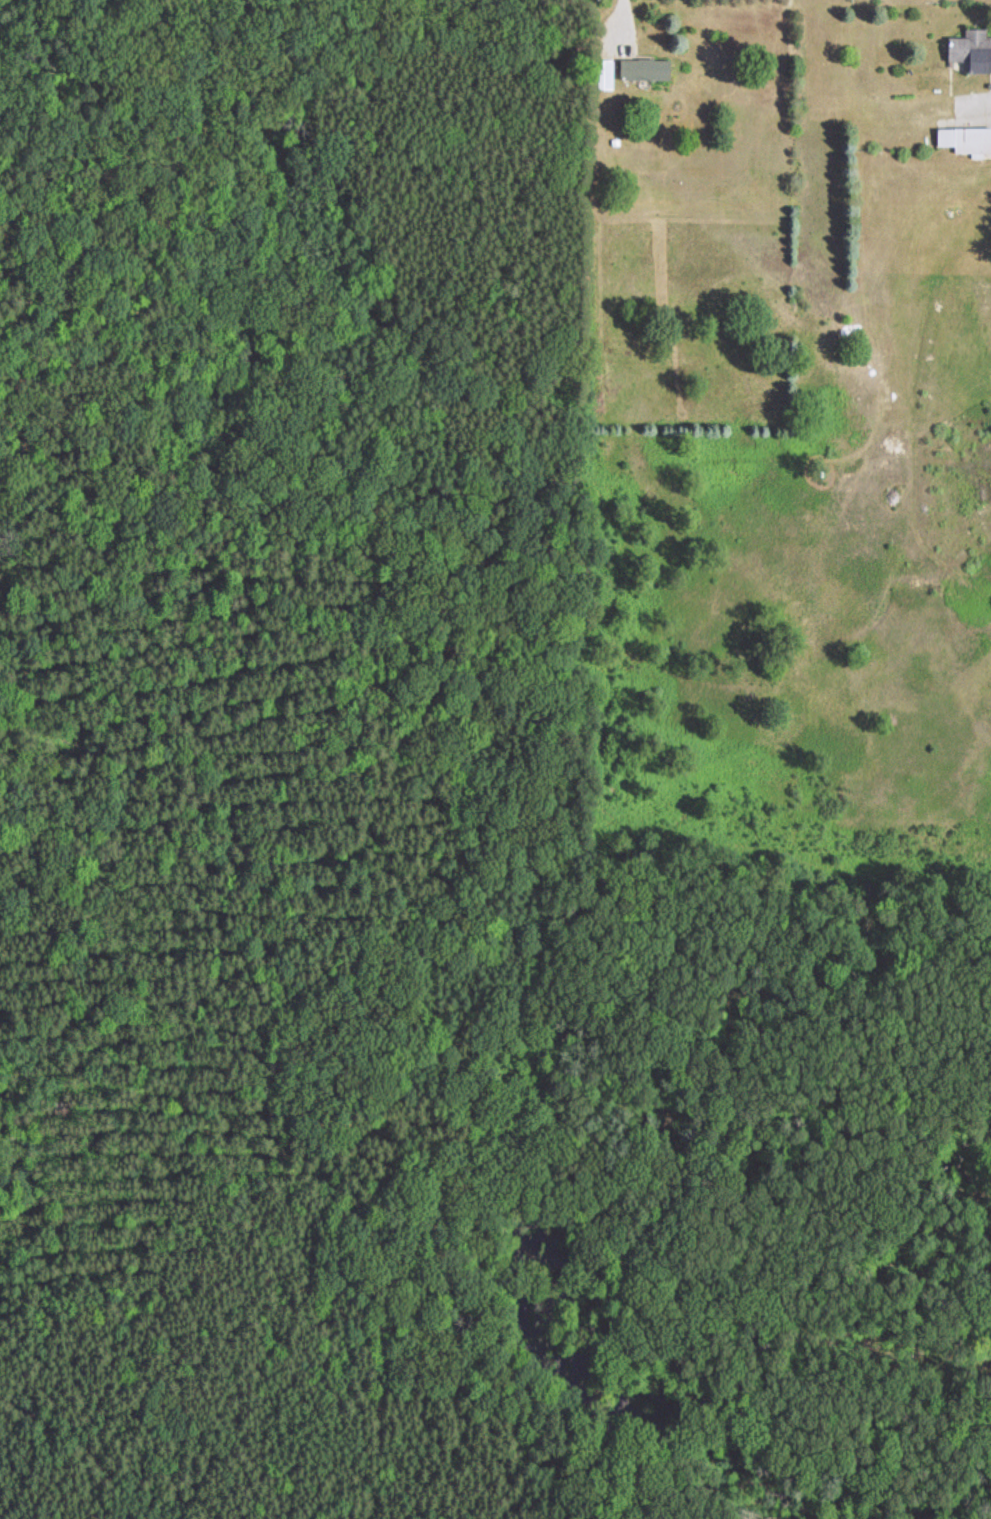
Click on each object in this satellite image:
building: (973, 50)
building: (647, 69)
building: (967, 140)
road: (88, 1439)

